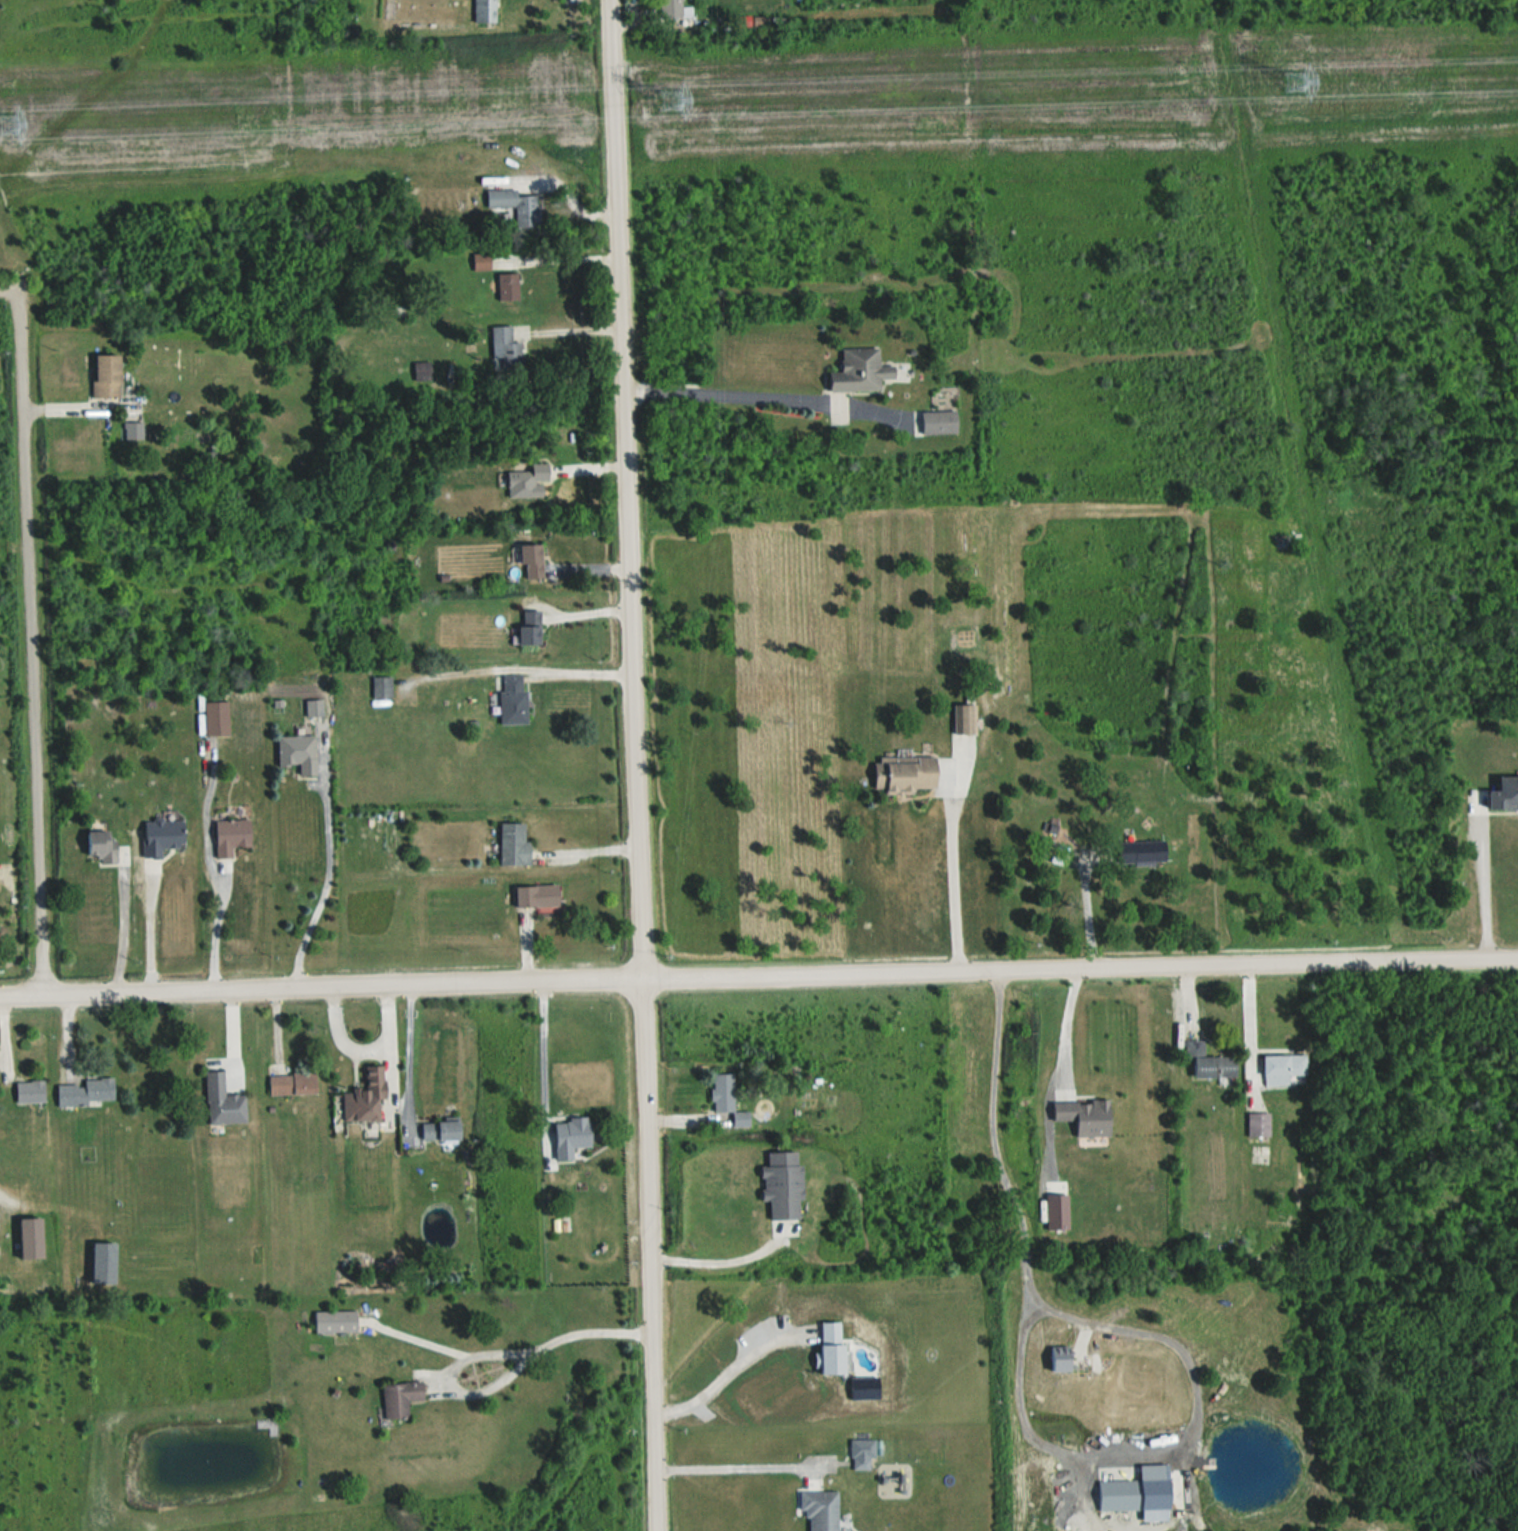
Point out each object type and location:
building: (675, 9)
building: (487, 10)
building: (752, 22)
power tower: (1283, 92)
power tower: (672, 108)
power tower: (13, 124)
road: (569, 197)
building: (517, 204)
road: (566, 257)
building: (482, 261)
building: (510, 286)
road: (573, 330)
building: (506, 349)
building: (423, 370)
building: (867, 371)
building: (109, 376)
road: (733, 395)
building: (941, 422)
building: (529, 482)
building: (535, 561)
building: (533, 628)
road: (29, 632)
road: (572, 670)
building: (383, 686)
building: (515, 700)
building: (316, 708)
building: (218, 718)
building: (967, 719)
building: (300, 754)
road: (638, 765)
building: (908, 774)
building: (1506, 795)
building: (163, 836)
building: (233, 836)
building: (516, 844)
building: (104, 845)
building: (1145, 852)
road: (949, 875)
road: (1477, 884)
road: (327, 886)
building: (539, 895)
road: (1085, 911)
road: (125, 928)
road: (216, 930)
road: (149, 933)
road: (758, 975)
road: (1245, 1031)
road: (359, 1050)
road: (404, 1056)
building: (1210, 1063)
road: (546, 1065)
building: (1284, 1068)
road: (1056, 1069)
building: (294, 1084)
building: (32, 1092)
building: (87, 1092)
building: (368, 1098)
building: (729, 1099)
building: (225, 1101)
building: (1087, 1117)
building: (1259, 1124)
building: (443, 1131)
building: (574, 1137)
building: (785, 1186)
building: (32, 1239)
road: (712, 1261)
building: (106, 1263)
building: (337, 1322)
building: (1065, 1366)
road: (724, 1369)
road: (506, 1374)
building: (402, 1400)
road: (1020, 1412)
building: (861, 1463)
road: (734, 1466)
building: (1139, 1497)
building: (823, 1510)

